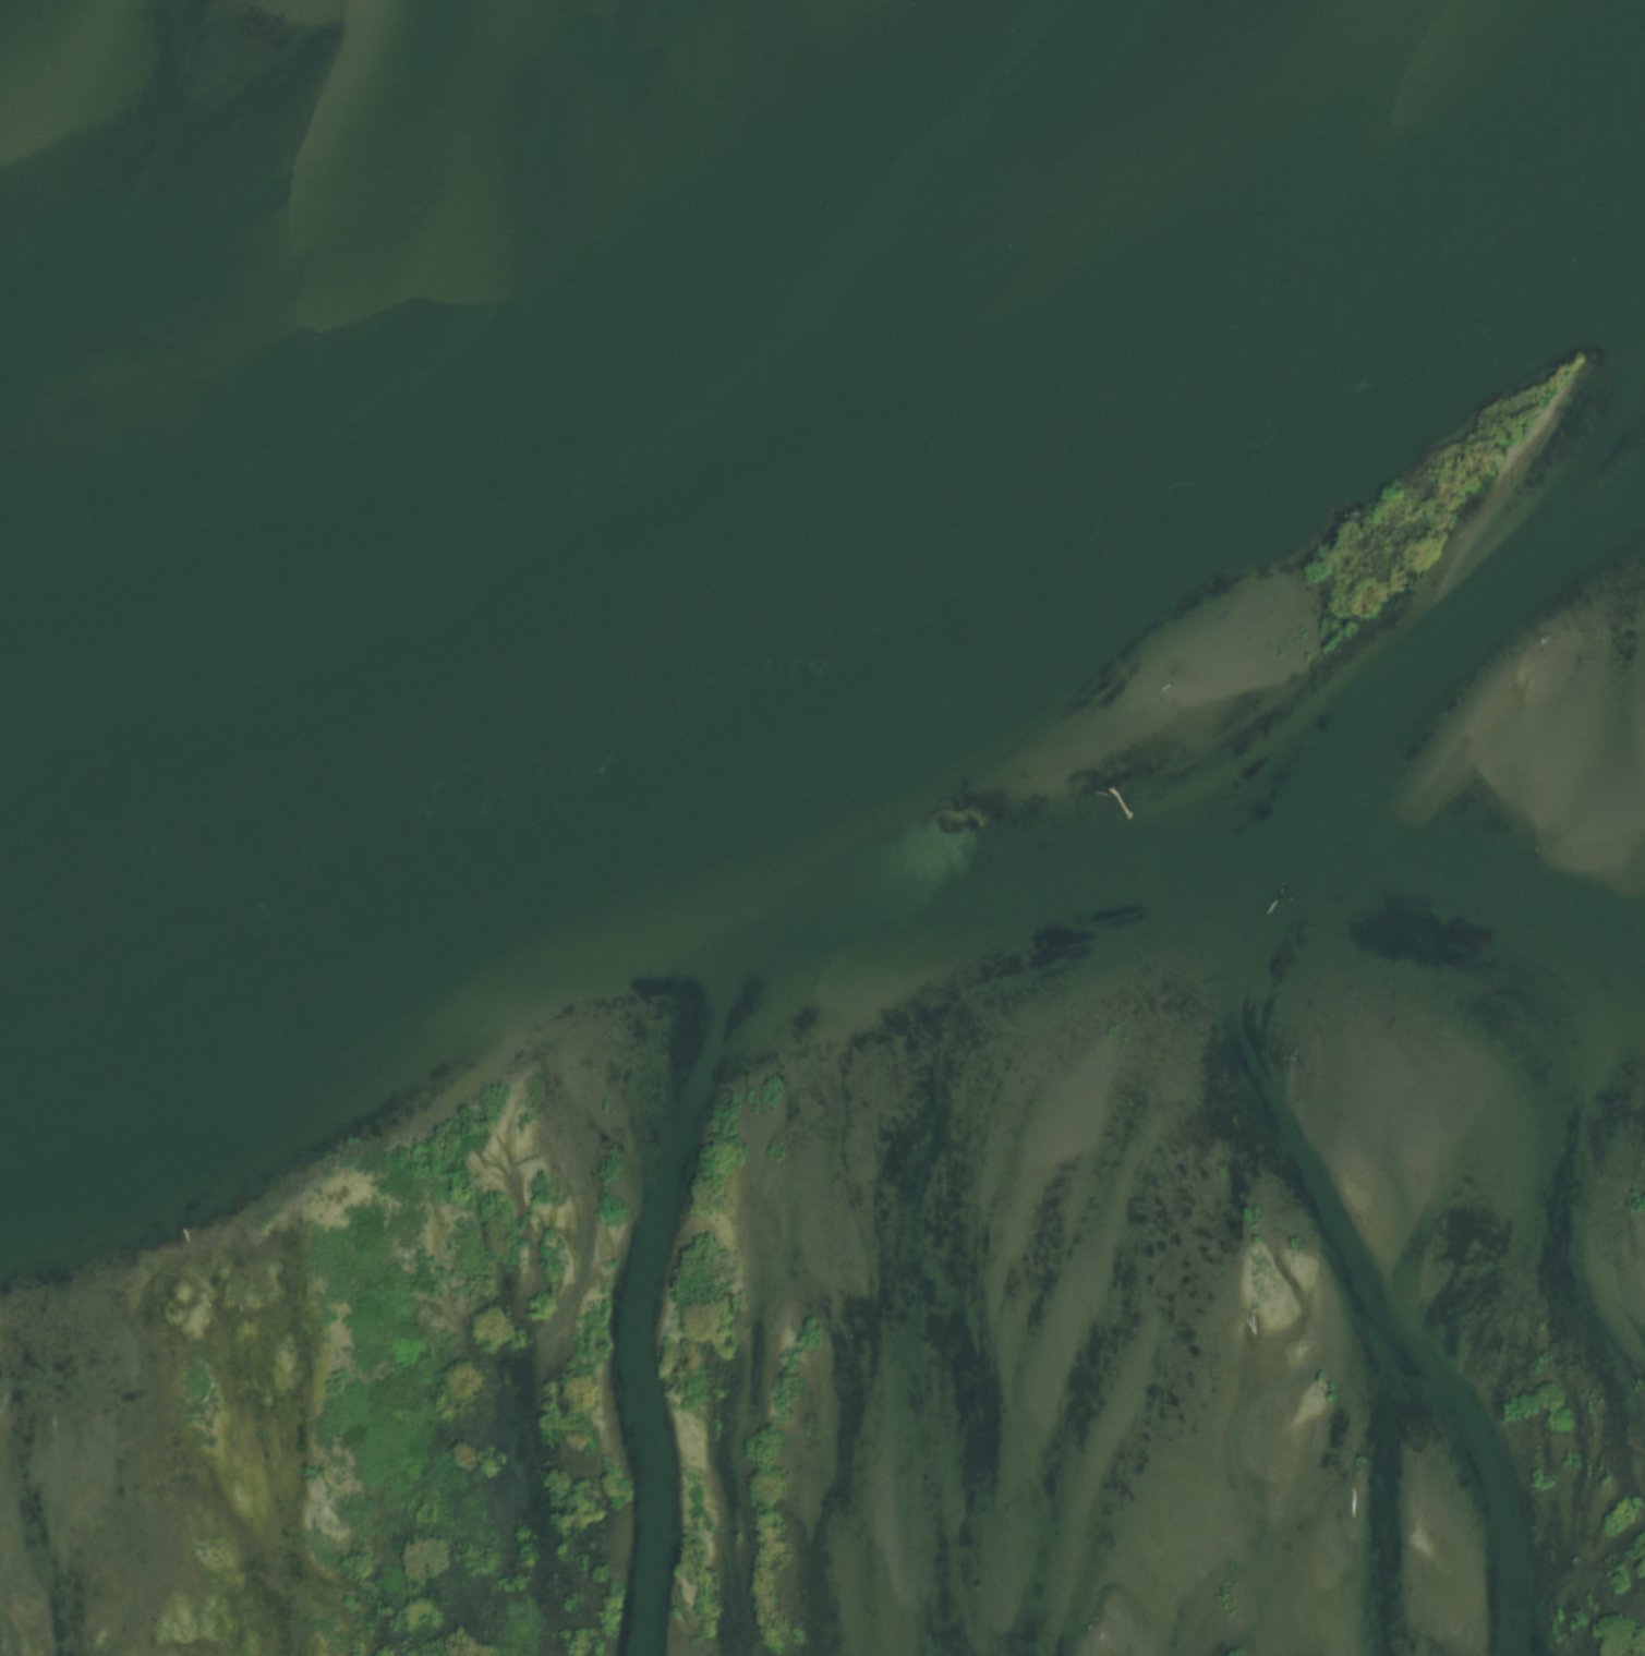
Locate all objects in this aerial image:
river: (354, 774)

